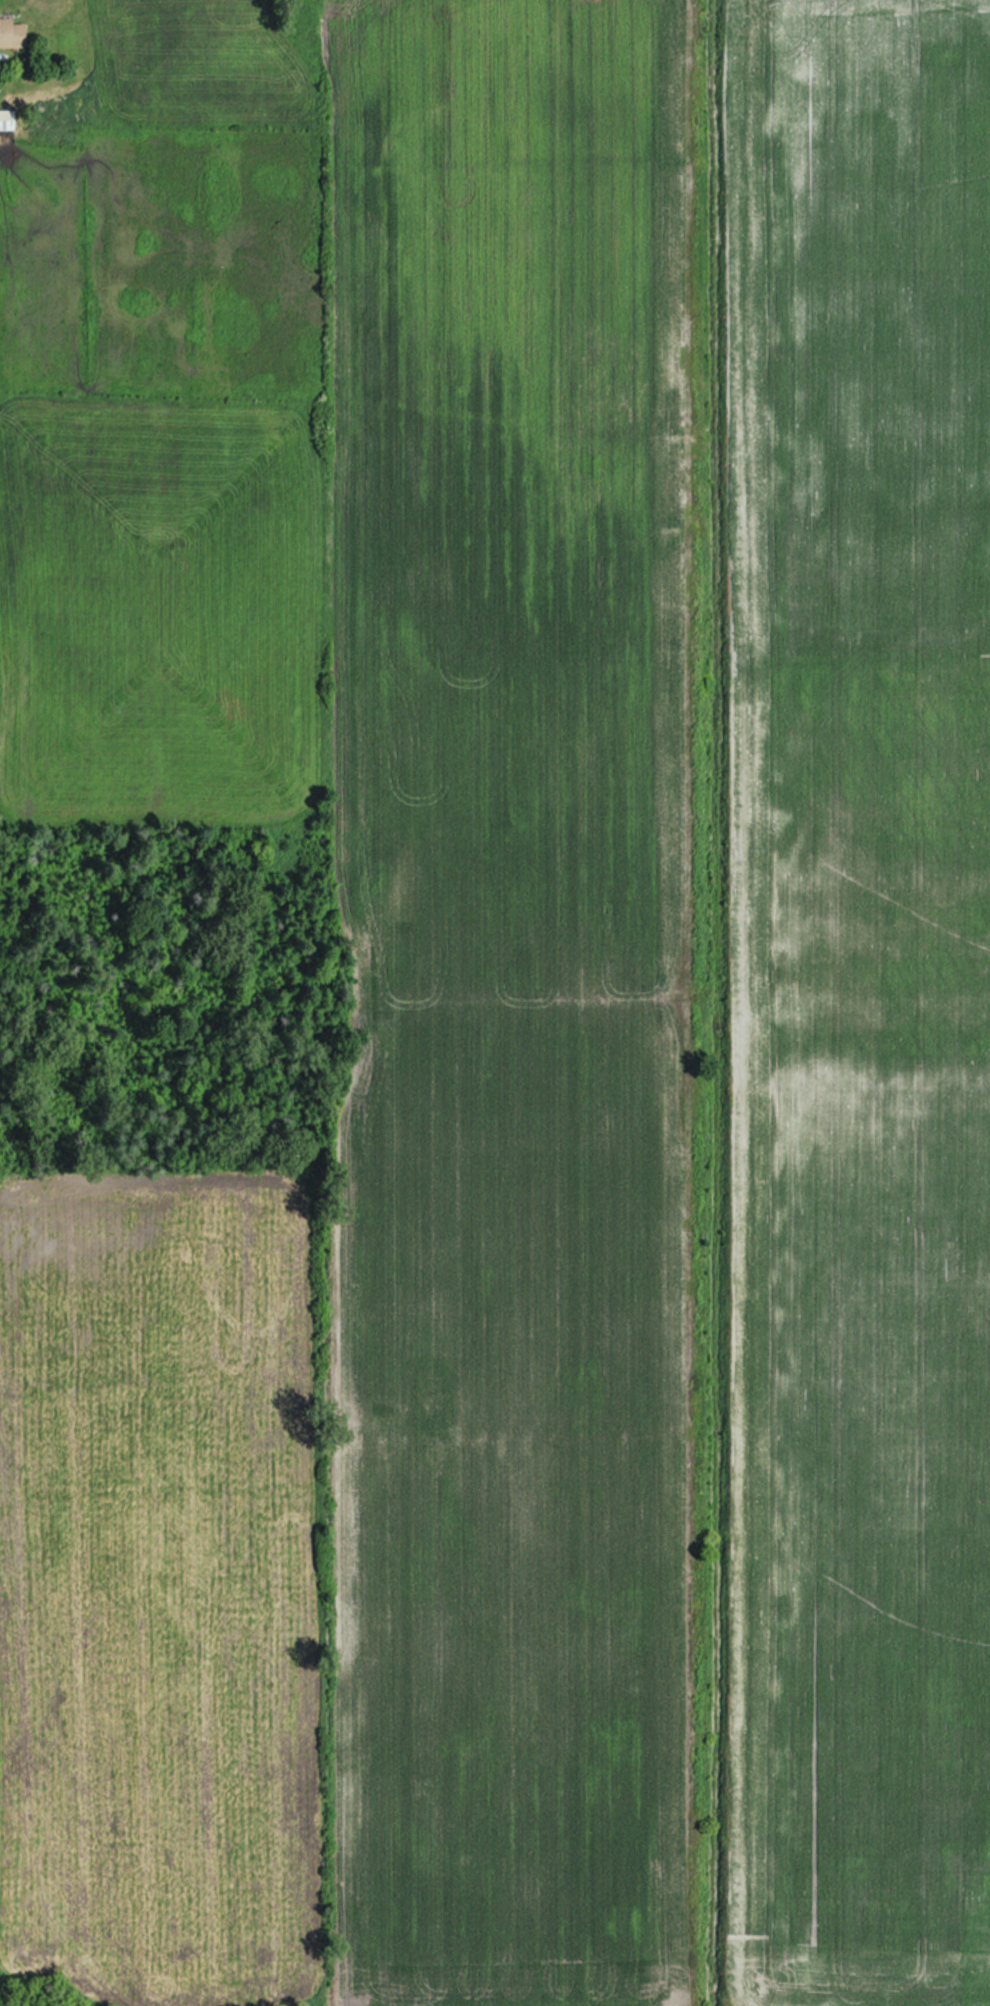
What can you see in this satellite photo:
building: (14, 34)
building: (8, 119)

